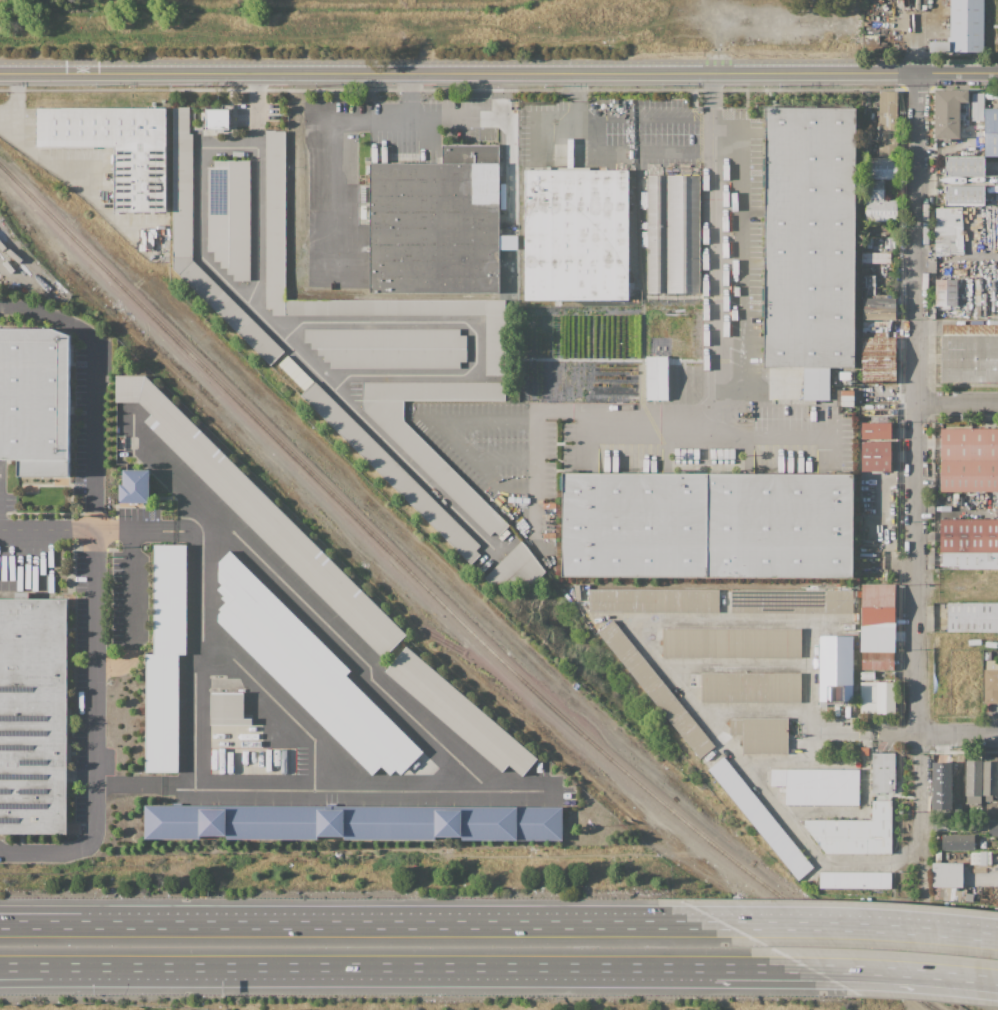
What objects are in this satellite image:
building: (966, 26)
building: (939, 46)
road: (499, 60)
road: (456, 72)
road: (955, 74)
road: (15, 90)
road: (409, 95)
building: (976, 106)
building: (948, 112)
building: (217, 119)
road: (604, 119)
road: (388, 120)
road: (535, 120)
building: (882, 121)
building: (991, 132)
building: (116, 147)
road: (674, 149)
building: (964, 166)
road: (955, 180)
road: (72, 186)
road: (258, 186)
building: (880, 189)
building: (964, 195)
building: (182, 197)
building: (229, 216)
building: (275, 222)
building: (436, 223)
building: (948, 230)
building: (663, 233)
building: (576, 234)
building: (809, 237)
building: (745, 247)
road: (712, 248)
building: (864, 270)
building: (946, 292)
building: (879, 308)
road: (470, 324)
building: (669, 336)
road: (291, 345)
building: (495, 345)
building: (389, 347)
building: (969, 352)
building: (879, 360)
building: (844, 375)
building: (656, 382)
building: (796, 387)
building: (847, 398)
building: (35, 400)
road: (956, 403)
road: (915, 406)
building: (749, 414)
road: (523, 419)
building: (877, 431)
road: (706, 435)
road: (500, 453)
building: (876, 456)
building: (969, 460)
building: (392, 472)
building: (441, 473)
building: (133, 486)
road: (515, 499)
building: (260, 513)
building: (707, 525)
building: (969, 536)
building: (971, 560)
building: (516, 567)
road: (95, 586)
road: (130, 587)
building: (878, 595)
building: (653, 600)
building: (791, 601)
railway: (448, 610)
building: (972, 617)
building: (878, 619)
building: (848, 627)
building: (877, 641)
building: (731, 642)
road: (649, 649)
road: (199, 656)
building: (165, 659)
building: (878, 661)
building: (310, 671)
building: (836, 672)
building: (867, 676)
building: (695, 680)
building: (991, 682)
building: (750, 687)
building: (656, 689)
building: (878, 697)
road: (284, 702)
building: (227, 708)
road: (411, 711)
building: (459, 713)
building: (32, 715)
building: (761, 734)
road: (934, 735)
building: (882, 773)
building: (973, 778)
building: (989, 779)
building: (818, 785)
building: (940, 785)
road: (919, 799)
building: (760, 818)
building: (353, 823)
building: (993, 828)
building: (854, 832)
building: (957, 842)
building: (980, 858)
building: (946, 874)
building: (854, 880)
building: (947, 893)
building: (968, 897)
road: (350, 924)
road: (849, 926)
road: (83, 966)
road: (447, 967)
road: (755, 967)
road: (890, 971)
road: (83, 972)

